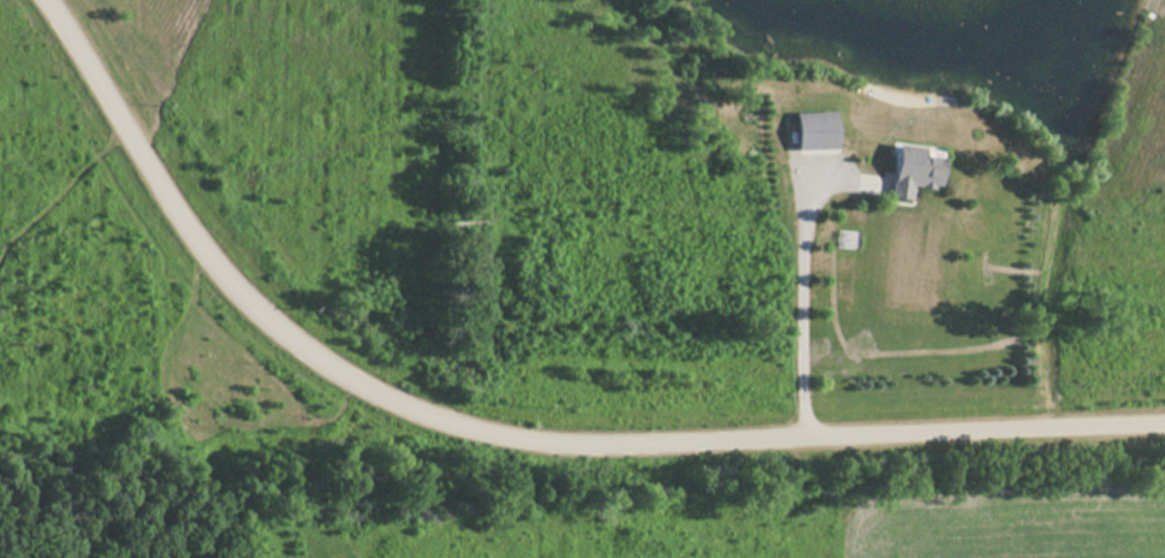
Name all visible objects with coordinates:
building: (813, 132)
building: (913, 171)

